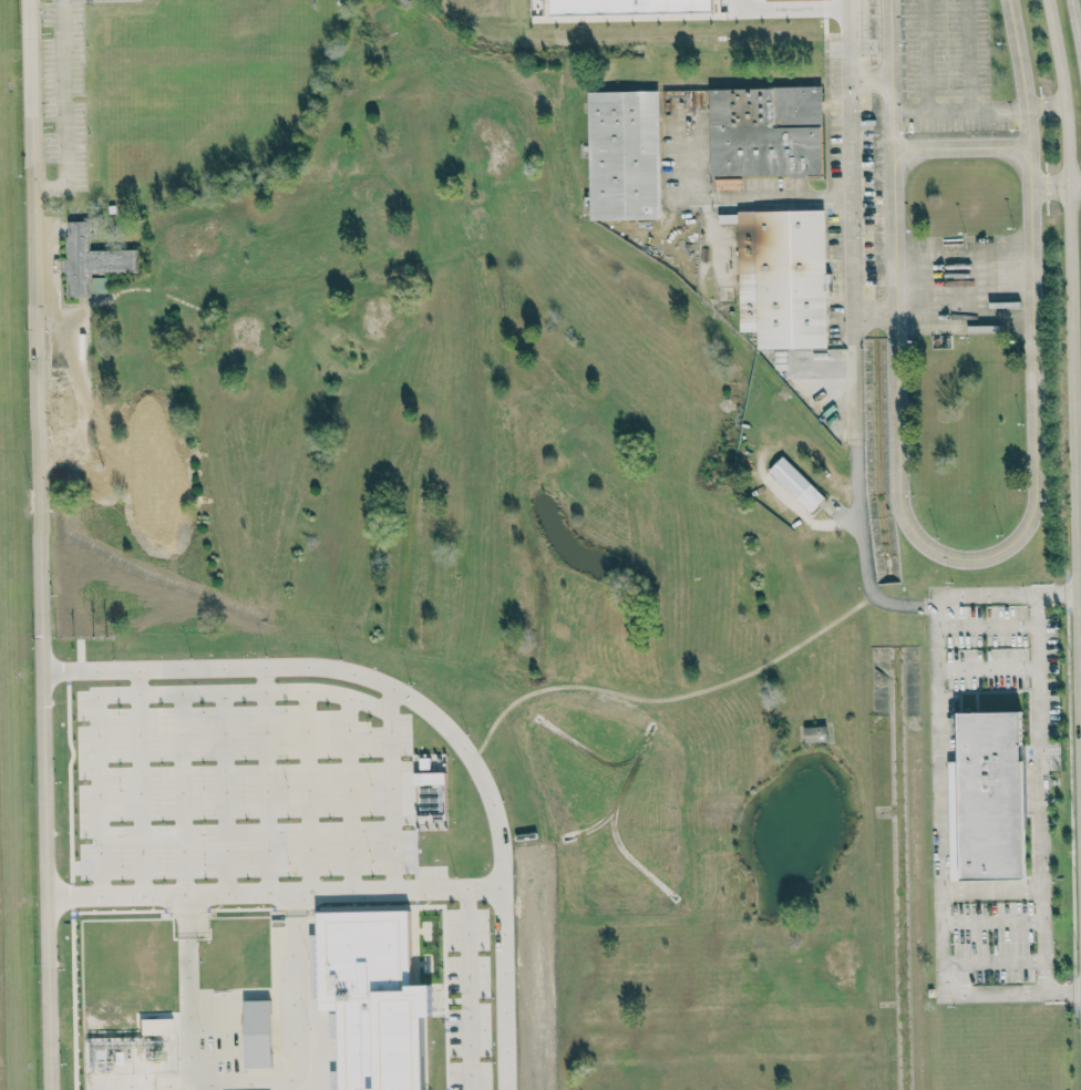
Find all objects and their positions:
building: (627, 6)
road: (790, 8)
road: (1075, 27)
parking lot: (944, 63)
road: (1046, 105)
road: (63, 109)
building: (766, 131)
road: (853, 150)
road: (961, 150)
building: (624, 155)
parking lot: (854, 160)
road: (1052, 185)
road: (1075, 185)
road: (728, 194)
building: (92, 261)
building: (782, 277)
road: (1073, 352)
road: (855, 481)
building: (796, 483)
road: (39, 545)
road: (969, 559)
road: (245, 691)
road: (429, 712)
building: (815, 733)
road: (265, 780)
road: (141, 782)
parking lot: (241, 782)
road: (390, 789)
road: (939, 789)
road: (308, 791)
road: (185, 793)
road: (225, 793)
building: (431, 793)
road: (1041, 793)
road: (349, 794)
road: (101, 796)
building: (987, 798)
parking lot: (431, 882)
road: (275, 893)
road: (467, 989)
building: (371, 998)
parking lot: (467, 999)
building: (155, 1026)
building: (257, 1034)
road: (239, 1083)

